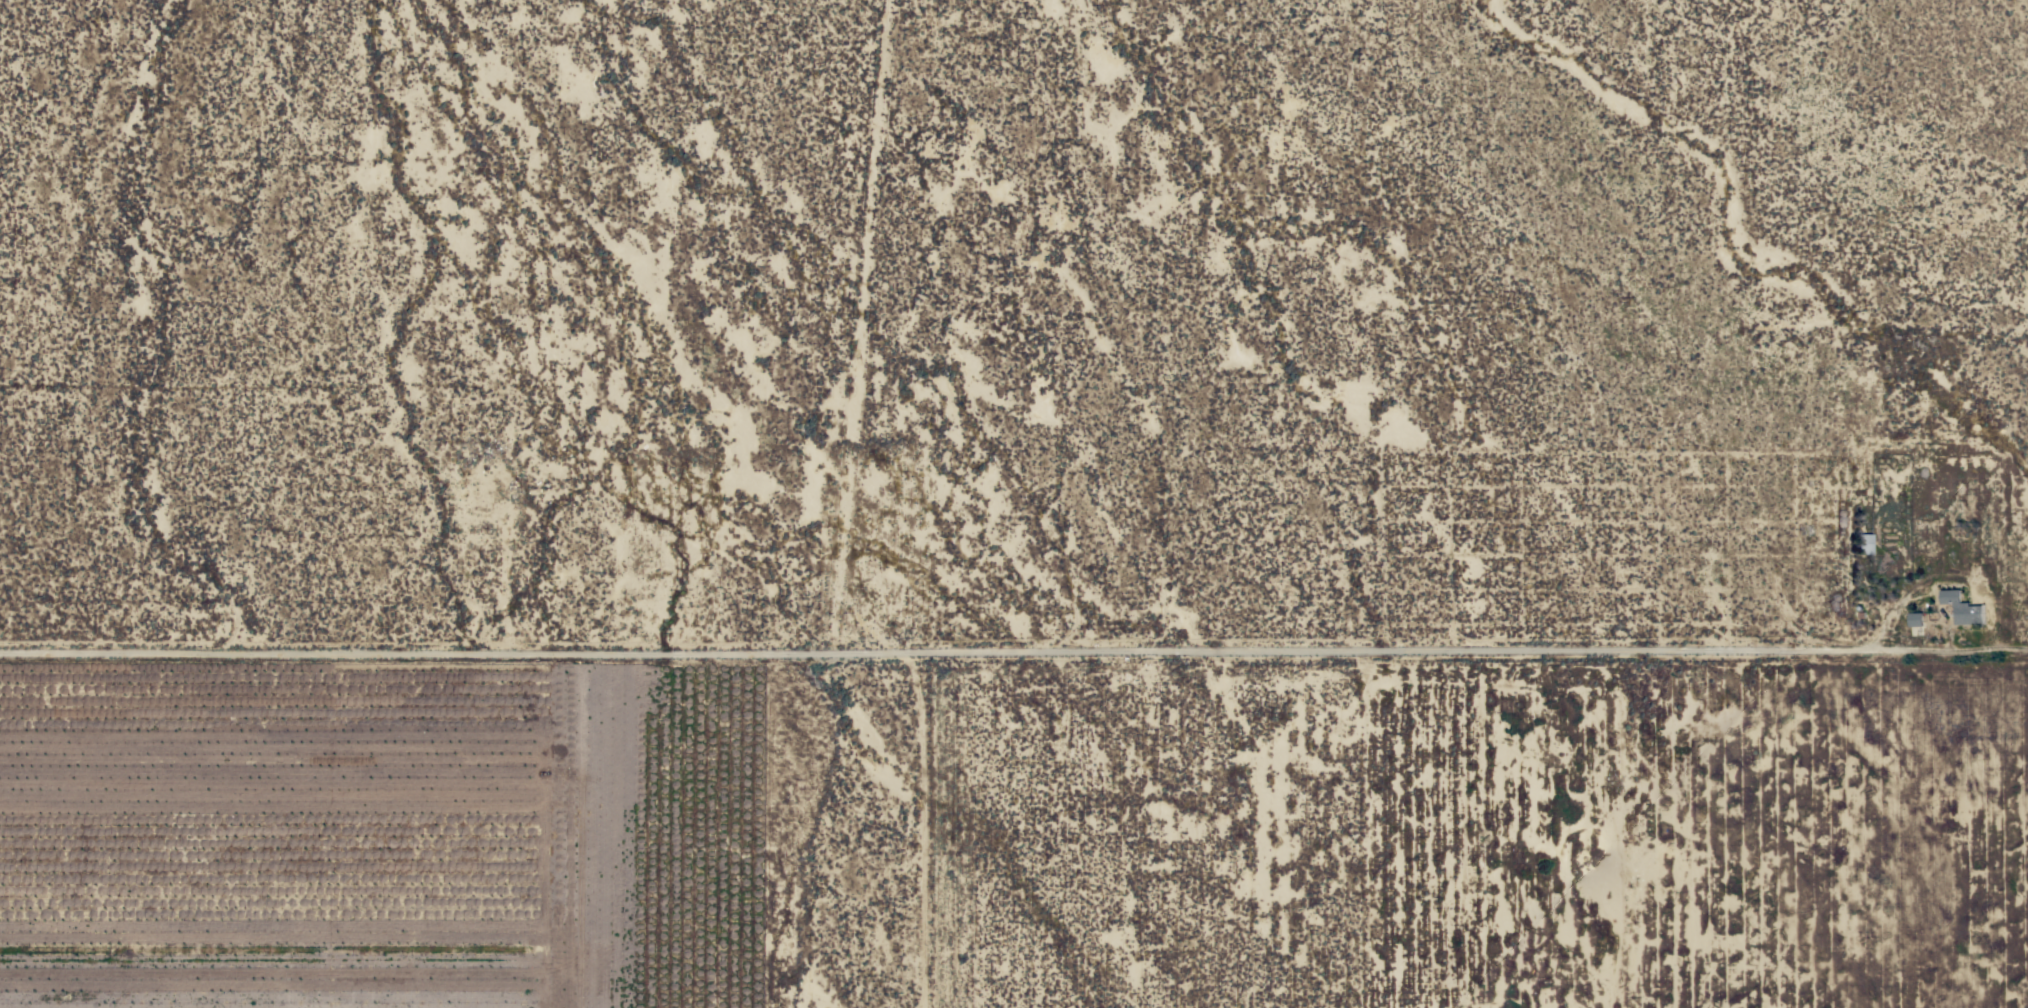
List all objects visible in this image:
building: (1865, 544)
building: (1962, 608)
building: (1915, 619)
road: (1013, 649)

